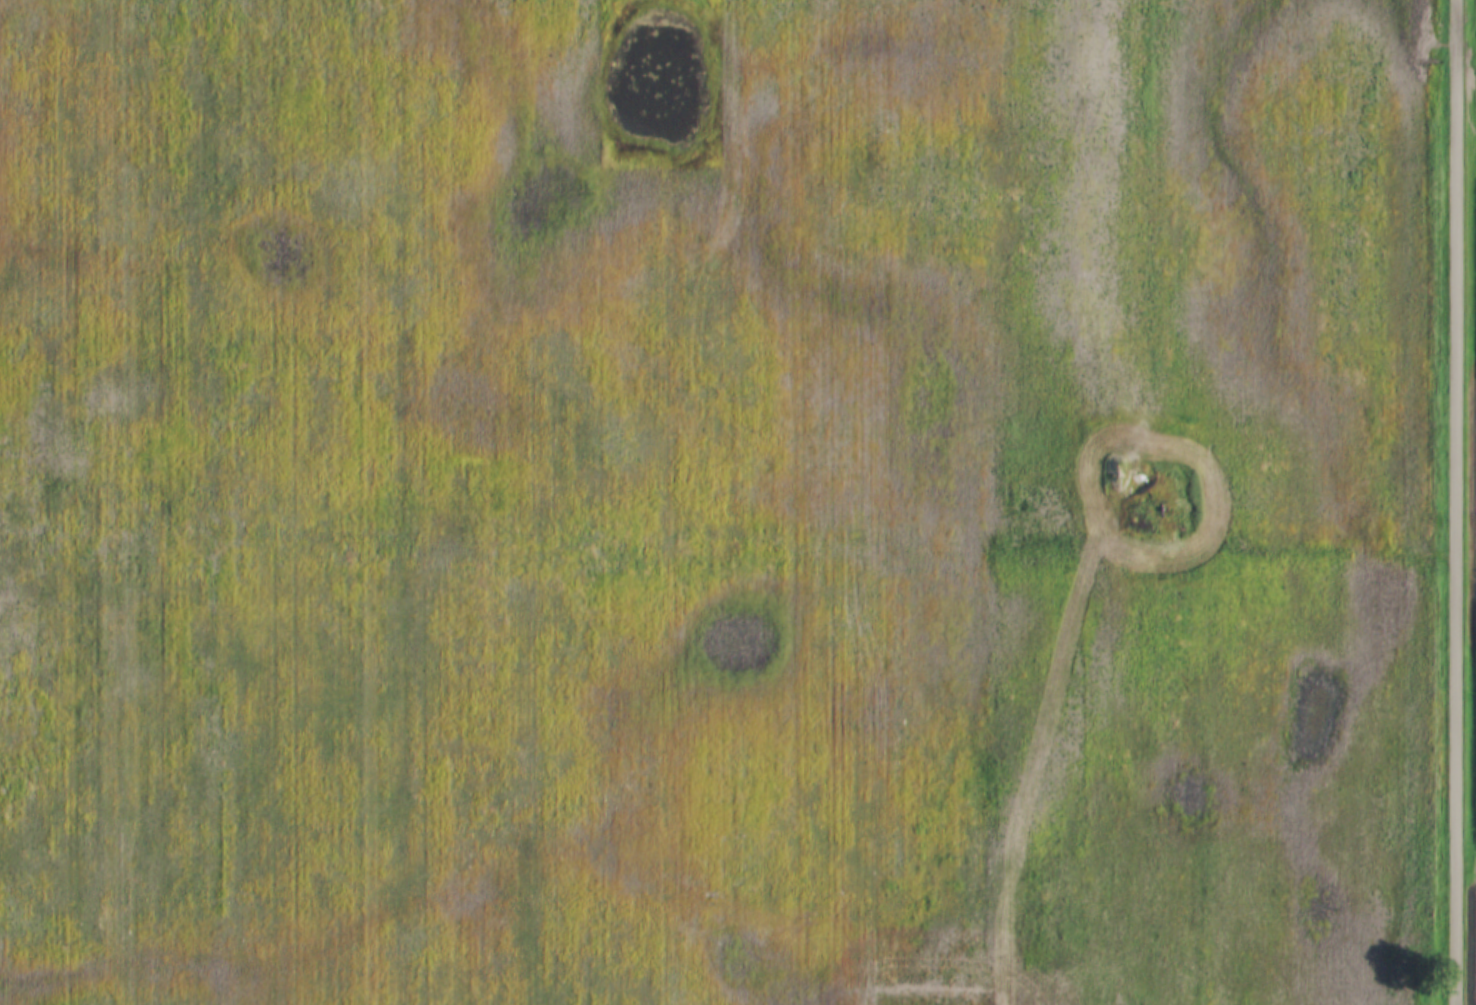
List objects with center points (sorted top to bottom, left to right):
road: (1453, 502)

